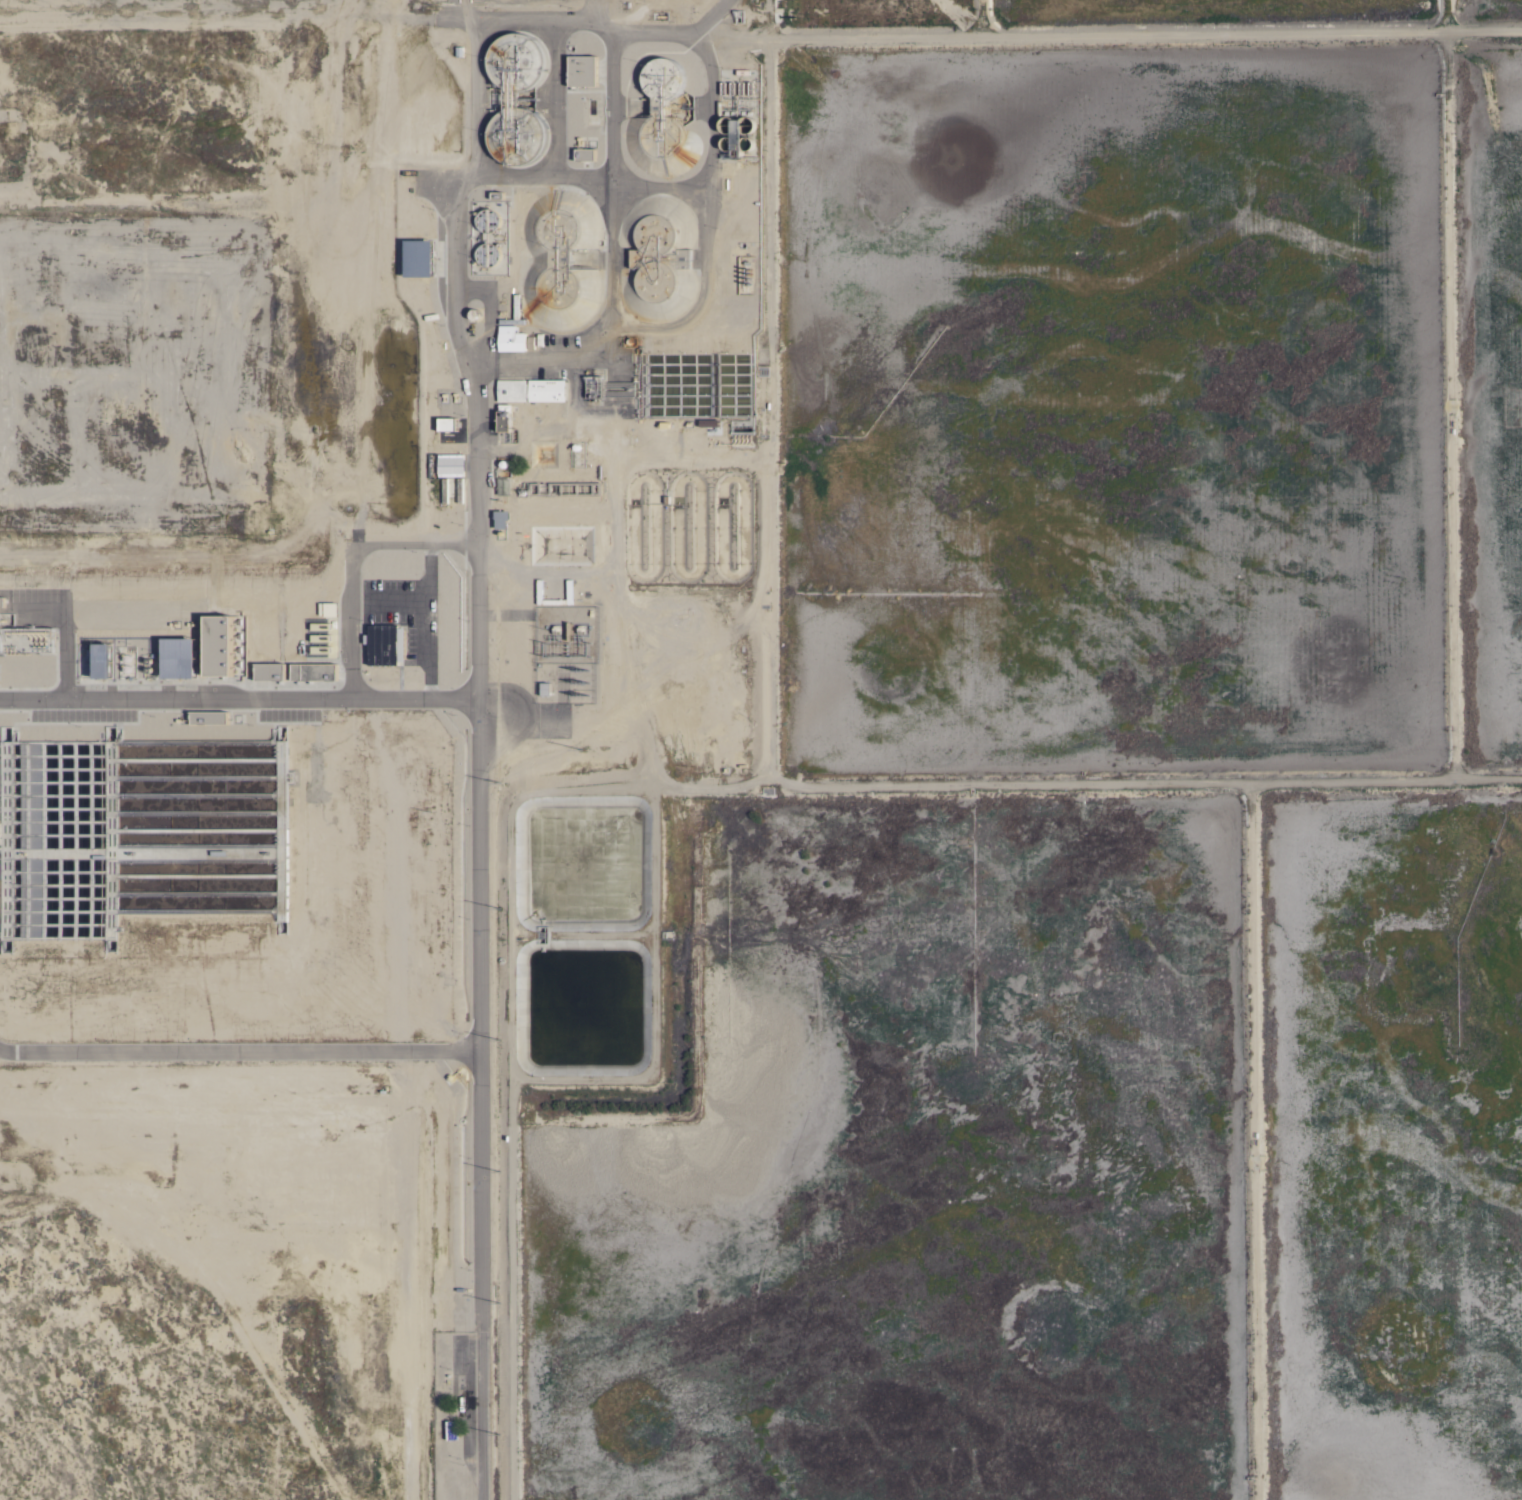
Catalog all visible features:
building: (583, 71)
building: (663, 132)
building: (585, 154)
building: (419, 257)
building: (561, 258)
building: (658, 258)
building: (514, 313)
building: (512, 341)
building: (611, 387)
building: (531, 390)
wastewater plant: (1494, 407)
wastewater plant: (1095, 413)
building: (504, 417)
building: (448, 424)
building: (451, 464)
building: (503, 486)
building: (574, 488)
building: (501, 518)
road: (414, 544)
road: (394, 597)
parking lot: (37, 607)
building: (330, 609)
road: (37, 611)
parking lot: (400, 612)
road: (348, 613)
road: (423, 621)
building: (26, 639)
building: (380, 643)
building: (219, 645)
road: (61, 655)
building: (180, 657)
building: (103, 660)
building: (270, 671)
building: (314, 671)
building: (543, 690)
road: (240, 698)
road: (482, 698)
building: (209, 717)
wastewater plant: (761, 750)
road: (241, 1051)
wastewater plant: (1394, 1156)
wastewater plant: (901, 1181)
building: (452, 1429)

